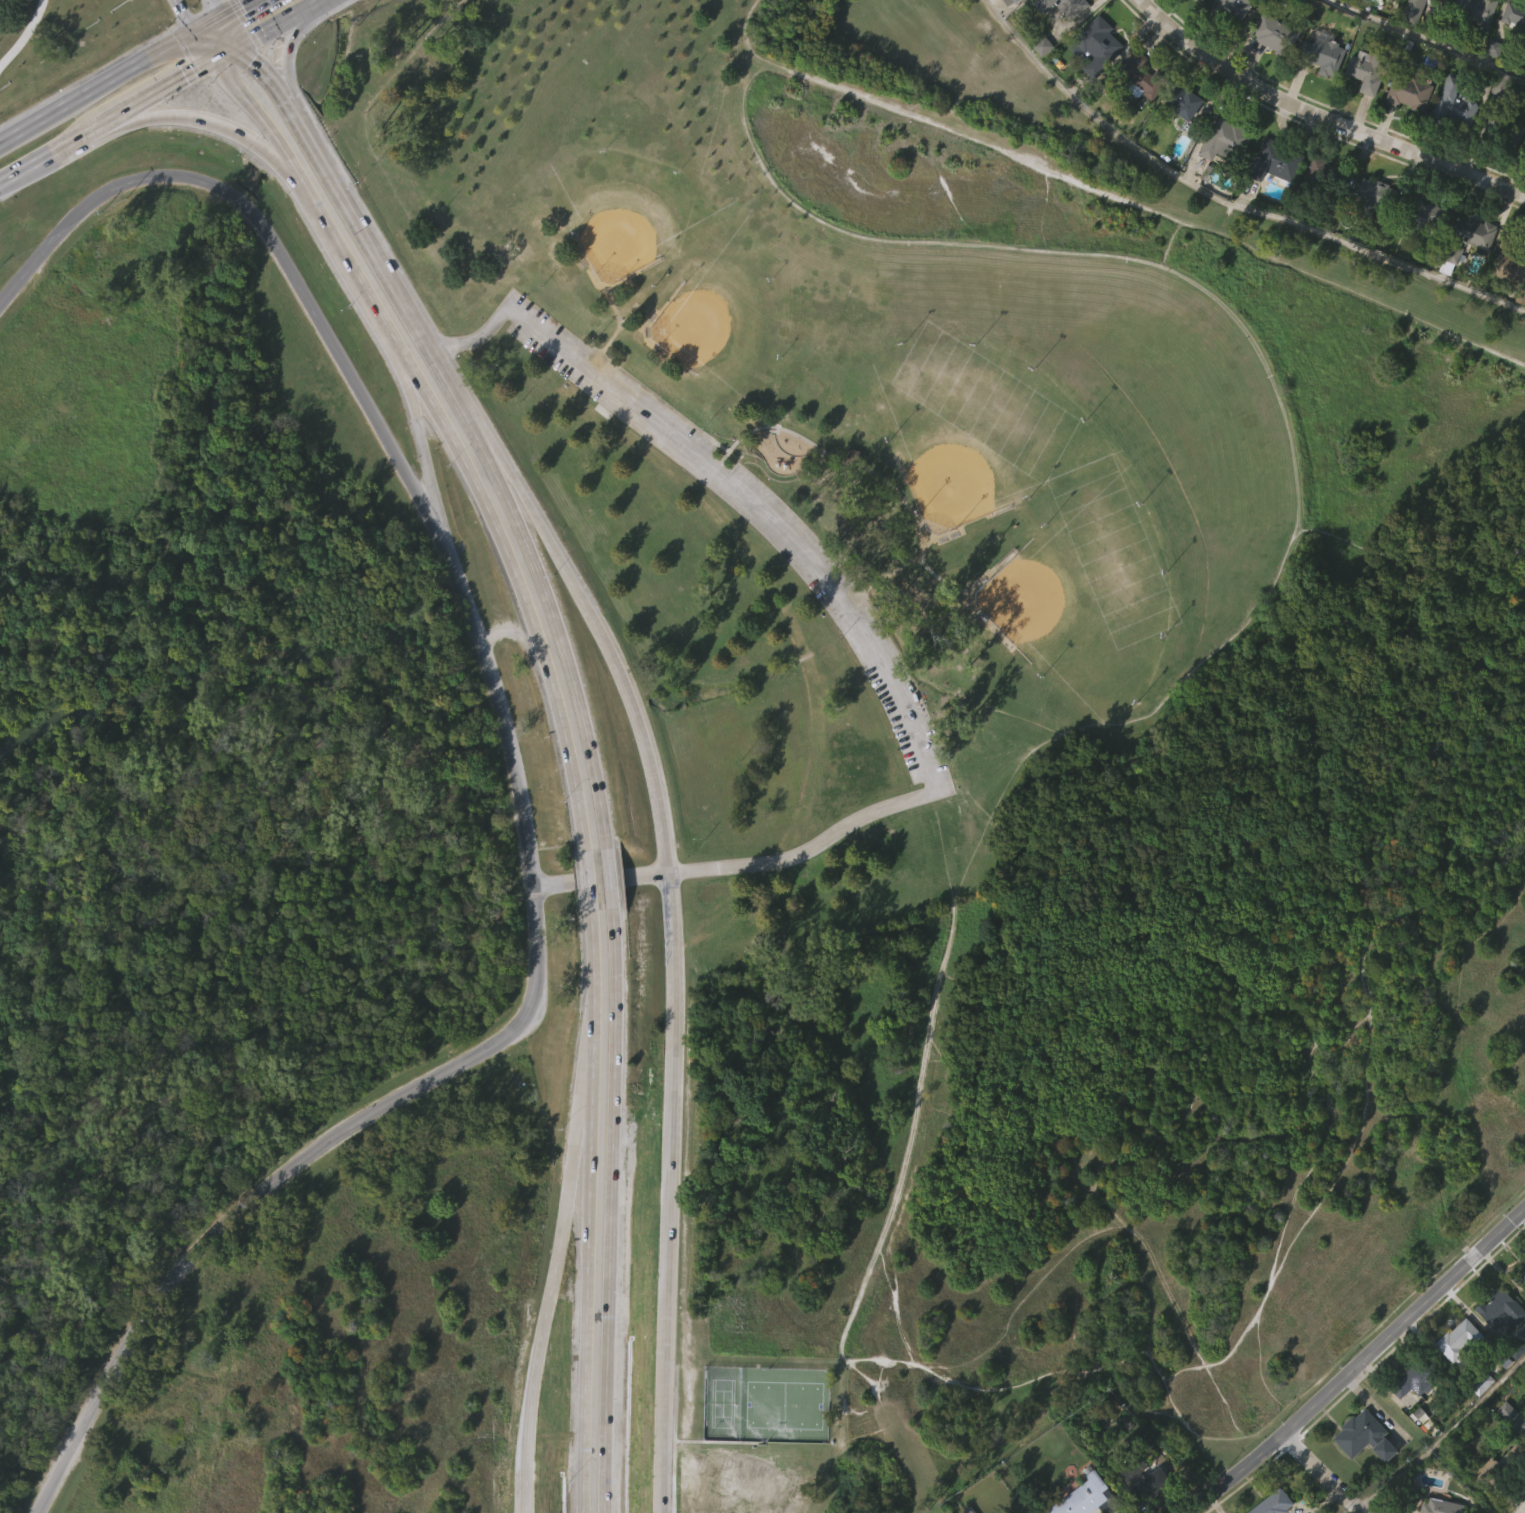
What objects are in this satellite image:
building: (1397, 0)
building: (1163, 1)
building: (1201, 1)
building: (1015, 2)
building: (1338, 4)
traffic signals: (244, 7)
building: (1066, 7)
building: (1234, 8)
traffic signals: (182, 9)
road: (216, 9)
road: (239, 9)
building: (1472, 10)
building: (1413, 11)
building: (1303, 13)
road: (743, 14)
building: (1513, 14)
road: (187, 16)
building: (1191, 21)
road: (280, 22)
park: (55, 31)
road: (234, 31)
building: (1421, 35)
building: (1233, 36)
road: (748, 37)
building: (1281, 37)
road: (1428, 37)
building: (1060, 40)
road: (208, 45)
building: (1472, 45)
road: (291, 47)
building: (1099, 47)
road: (231, 50)
road: (409, 52)
road: (37, 54)
building: (1324, 55)
traffic signals: (251, 56)
building: (1513, 56)
road: (265, 72)
building: (1370, 72)
building: (1269, 73)
building: (1142, 75)
traffic signals: (185, 79)
road: (112, 80)
building: (1498, 84)
building: (1041, 85)
building: (1096, 87)
building: (1412, 92)
building: (1325, 97)
building: (1188, 100)
building: (1455, 101)
road: (515, 102)
road: (139, 104)
road: (293, 110)
building: (1364, 110)
road: (1322, 116)
building: (1137, 117)
road: (205, 127)
building: (1500, 129)
building: (1408, 134)
road: (270, 136)
building: (1228, 138)
building: (1181, 143)
building: (1453, 143)
building: (1524, 148)
building: (1280, 159)
road: (30, 166)
building: (1491, 167)
building: (1328, 177)
building: (1223, 181)
road: (335, 186)
building: (1378, 198)
road: (1227, 201)
building: (1274, 202)
road: (1151, 212)
building: (1317, 214)
building: (1421, 216)
building: (1368, 234)
building: (1464, 236)
park: (617, 240)
road: (907, 240)
building: (1425, 255)
building: (1508, 260)
building: (1470, 273)
road: (367, 294)
building: (1510, 306)
park: (693, 324)
road: (1319, 337)
road: (439, 362)
road: (1271, 374)
road: (1403, 409)
road: (435, 410)
road: (427, 450)
park: (951, 483)
road: (542, 535)
road: (826, 589)
park: (1023, 597)
road: (539, 643)
road: (566, 657)
park: (1004, 700)
road: (638, 732)
road: (517, 785)
road: (610, 877)
road: (589, 880)
road: (599, 880)
park: (254, 883)
road: (591, 915)
road: (1369, 1007)
road: (929, 1029)
road: (693, 1085)
road: (581, 1087)
road: (977, 1125)
road: (668, 1193)
road: (608, 1210)
road: (589, 1216)
building: (1519, 1272)
road: (893, 1305)
building: (1501, 1308)
road: (1404, 1321)
road: (1192, 1341)
building: (1462, 1344)
building: (1497, 1348)
road: (1334, 1351)
road: (1260, 1360)
building: (1457, 1378)
road: (534, 1381)
building: (1412, 1381)
road: (869, 1389)
building: (1412, 1418)
building: (1478, 1420)
building: (1523, 1428)
building: (1358, 1433)
road: (1446, 1444)
building: (1384, 1449)
road: (775, 1456)
building: (1511, 1456)
building: (1495, 1468)
road: (1234, 1473)
road: (1323, 1473)
building: (1362, 1474)
building: (1147, 1478)
building: (1085, 1496)
building: (1507, 1497)
building: (1276, 1503)
building: (1139, 1506)
building: (1034, 1510)
road: (1358, 1511)

